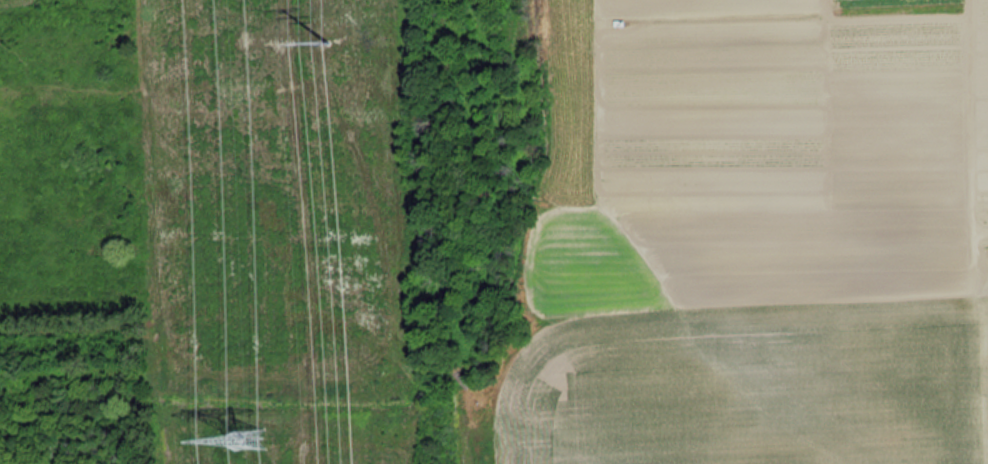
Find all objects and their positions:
power tower: (331, 19)
power tower: (248, 441)

